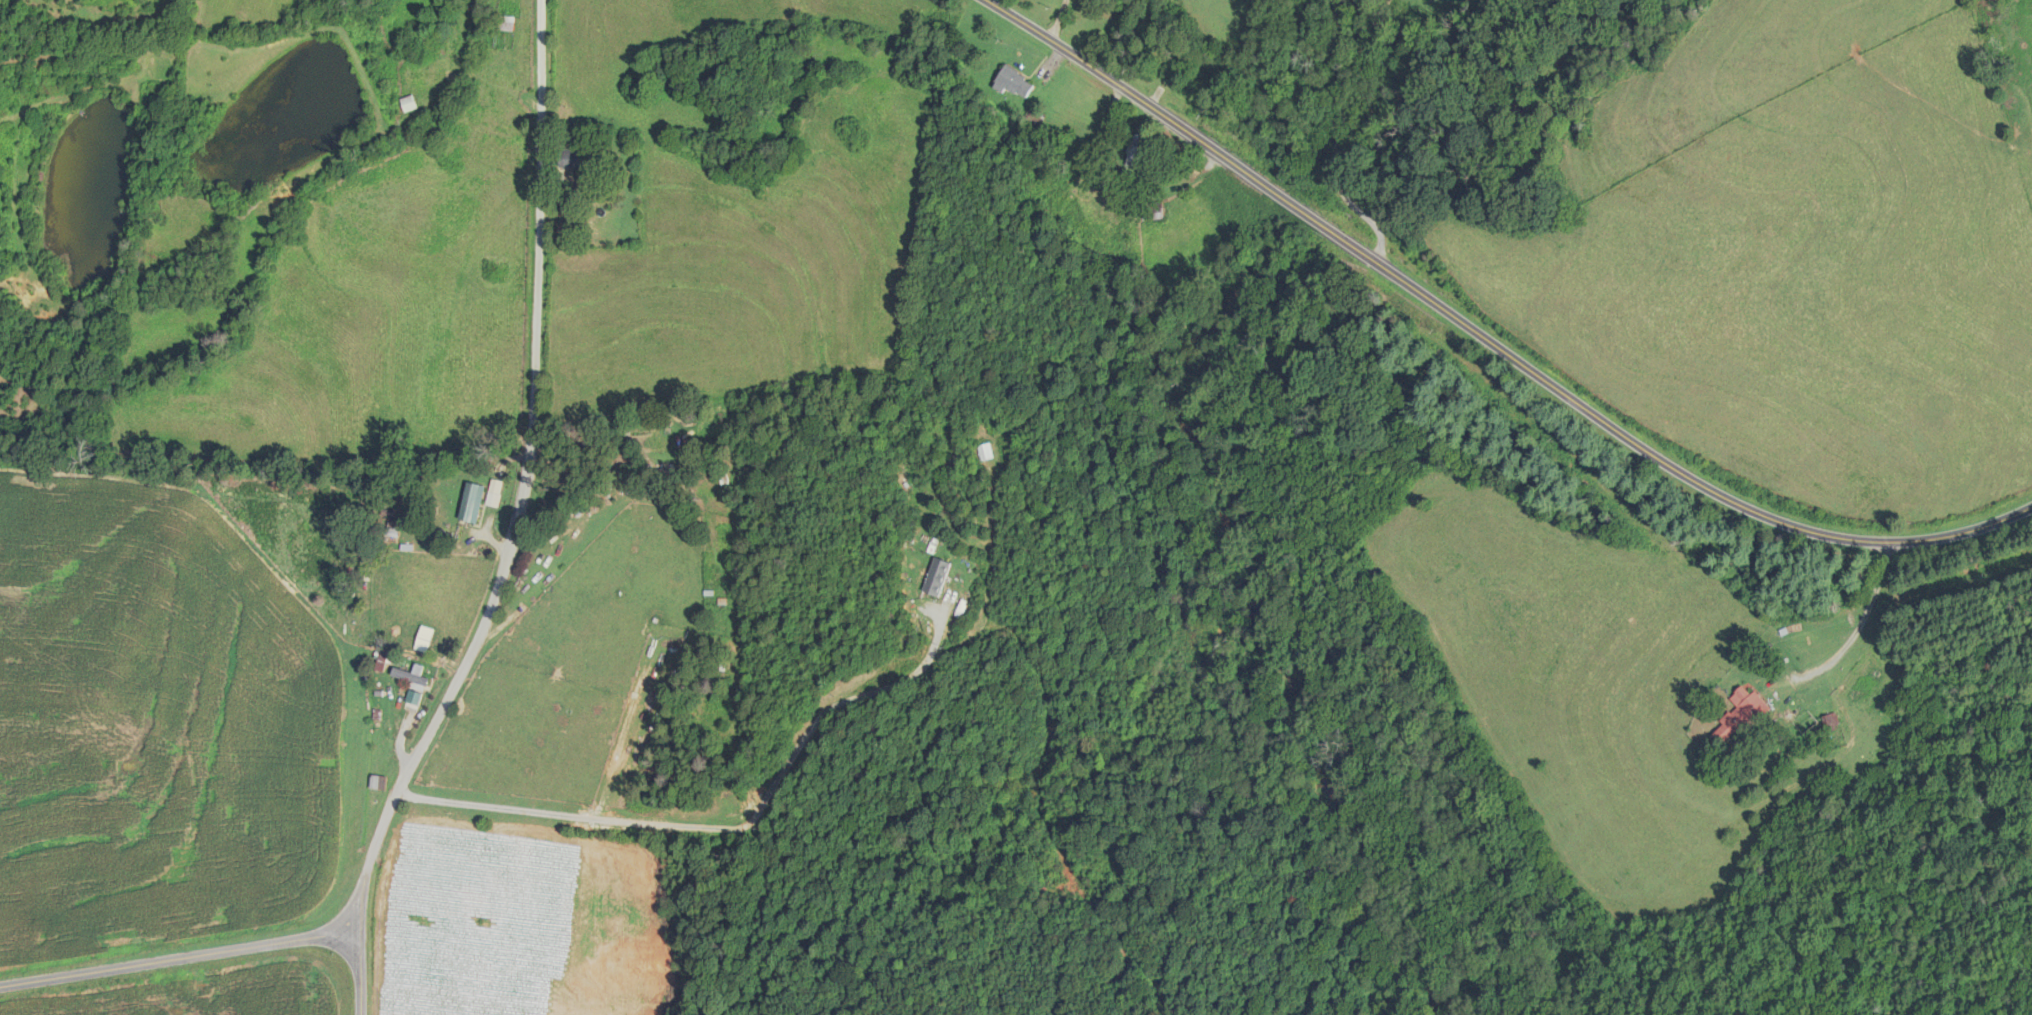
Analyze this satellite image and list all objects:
road: (1059, 18)
building: (505, 23)
building: (1015, 82)
building: (409, 104)
building: (1139, 149)
building: (578, 158)
building: (1155, 211)
road: (1490, 331)
building: (472, 502)
building: (938, 577)
road: (1862, 620)
road: (469, 645)
building: (381, 662)
building: (1868, 677)
road: (904, 680)
building: (414, 682)
building: (1741, 716)
building: (1828, 723)
building: (376, 783)
road: (353, 967)

